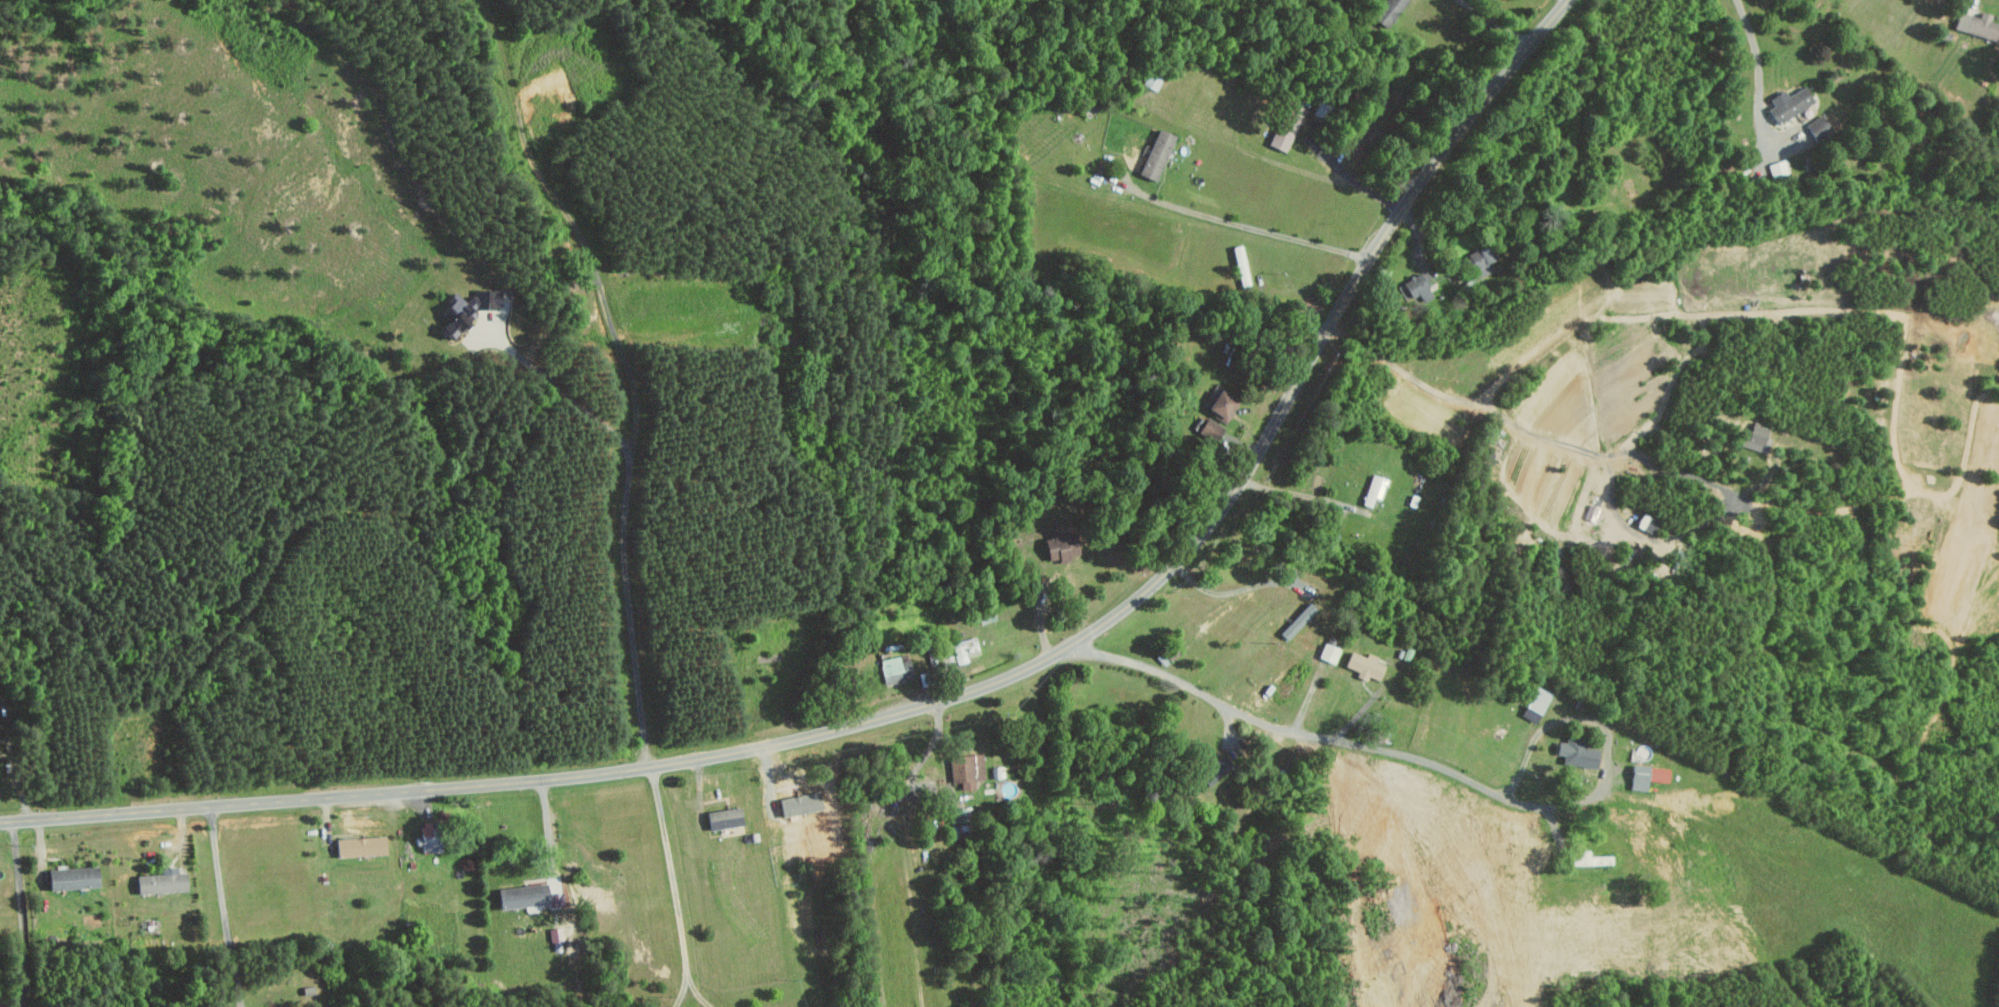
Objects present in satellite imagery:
road: (1973, 2)
building: (1387, 10)
road: (1493, 22)
building: (1977, 24)
road: (1758, 73)
building: (1152, 80)
building: (1789, 104)
building: (1285, 127)
building: (1819, 127)
building: (1154, 154)
building: (1778, 167)
road: (1354, 176)
road: (1261, 229)
building: (1238, 258)
building: (1481, 261)
building: (1416, 287)
building: (464, 312)
building: (1217, 405)
building: (1757, 438)
road: (1909, 485)
building: (1373, 490)
road: (1297, 492)
road: (1612, 502)
road: (625, 509)
building: (1058, 547)
road: (1230, 593)
building: (1297, 620)
building: (964, 648)
building: (1328, 653)
building: (1363, 665)
building: (893, 670)
road: (945, 701)
building: (1534, 704)
road: (1270, 722)
road: (1606, 728)
building: (1578, 753)
road: (943, 754)
building: (965, 768)
building: (1212, 769)
building: (1645, 776)
road: (1520, 801)
building: (722, 817)
building: (956, 821)
road: (549, 833)
building: (427, 842)
building: (358, 845)
building: (1589, 859)
building: (70, 876)
building: (161, 880)
road: (675, 887)
building: (520, 895)
road: (225, 906)
road: (23, 916)
road: (697, 991)

